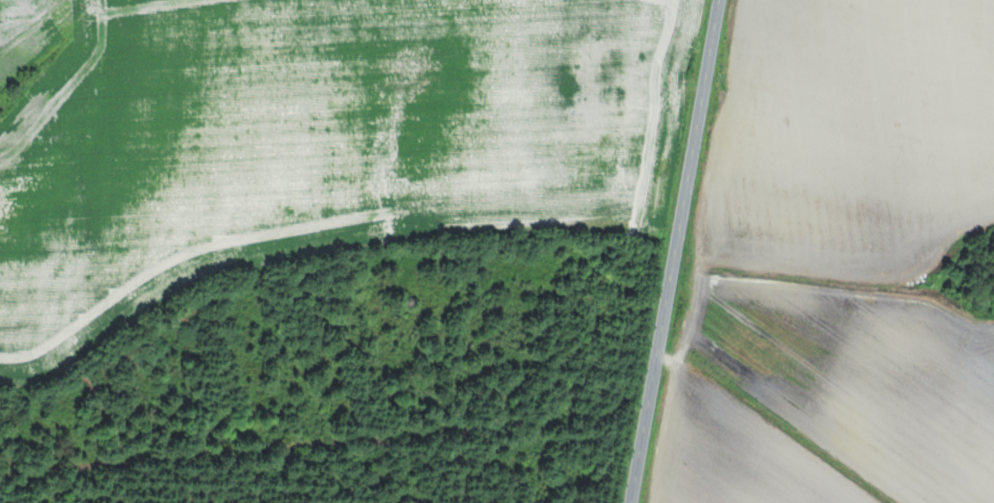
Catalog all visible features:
road: (677, 251)

